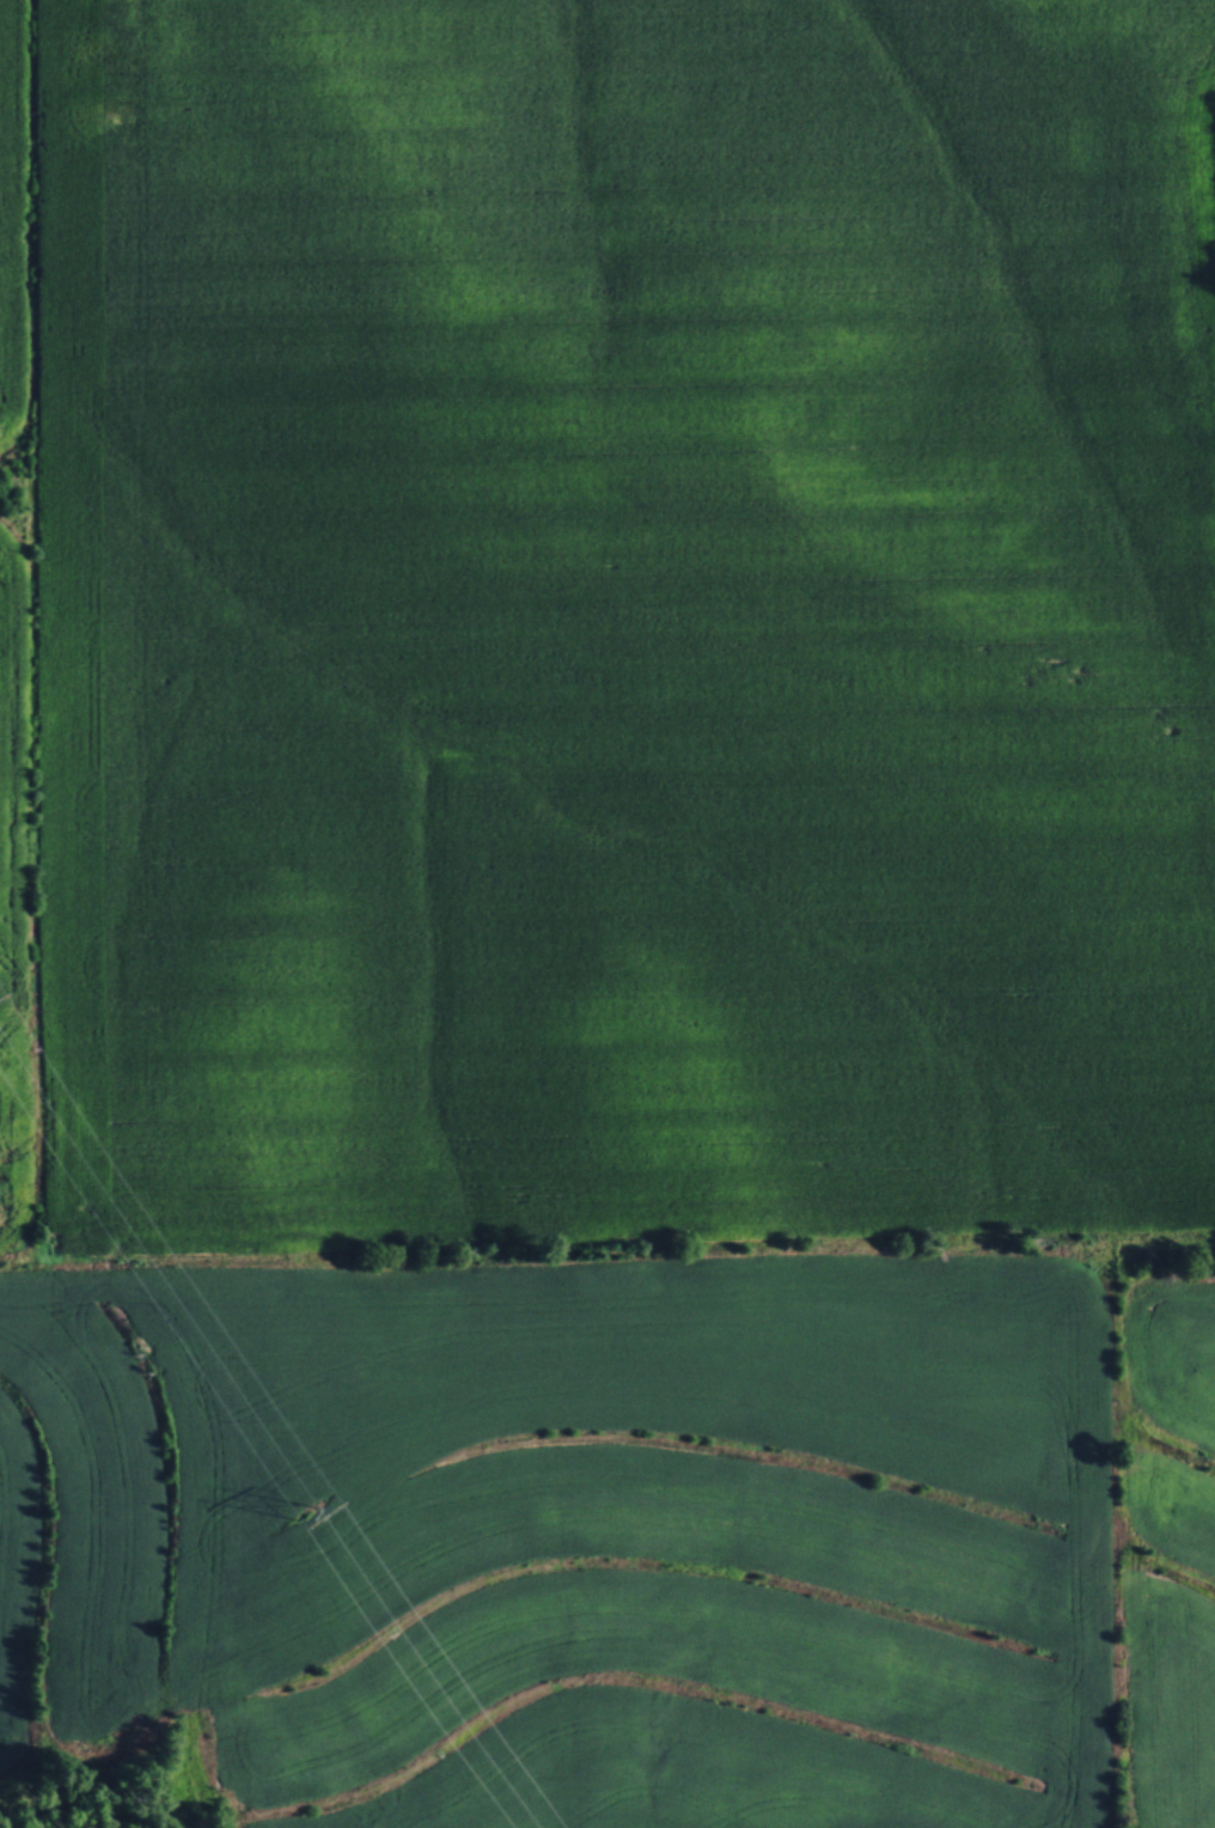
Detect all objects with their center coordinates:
power tower: (305, 1516)

